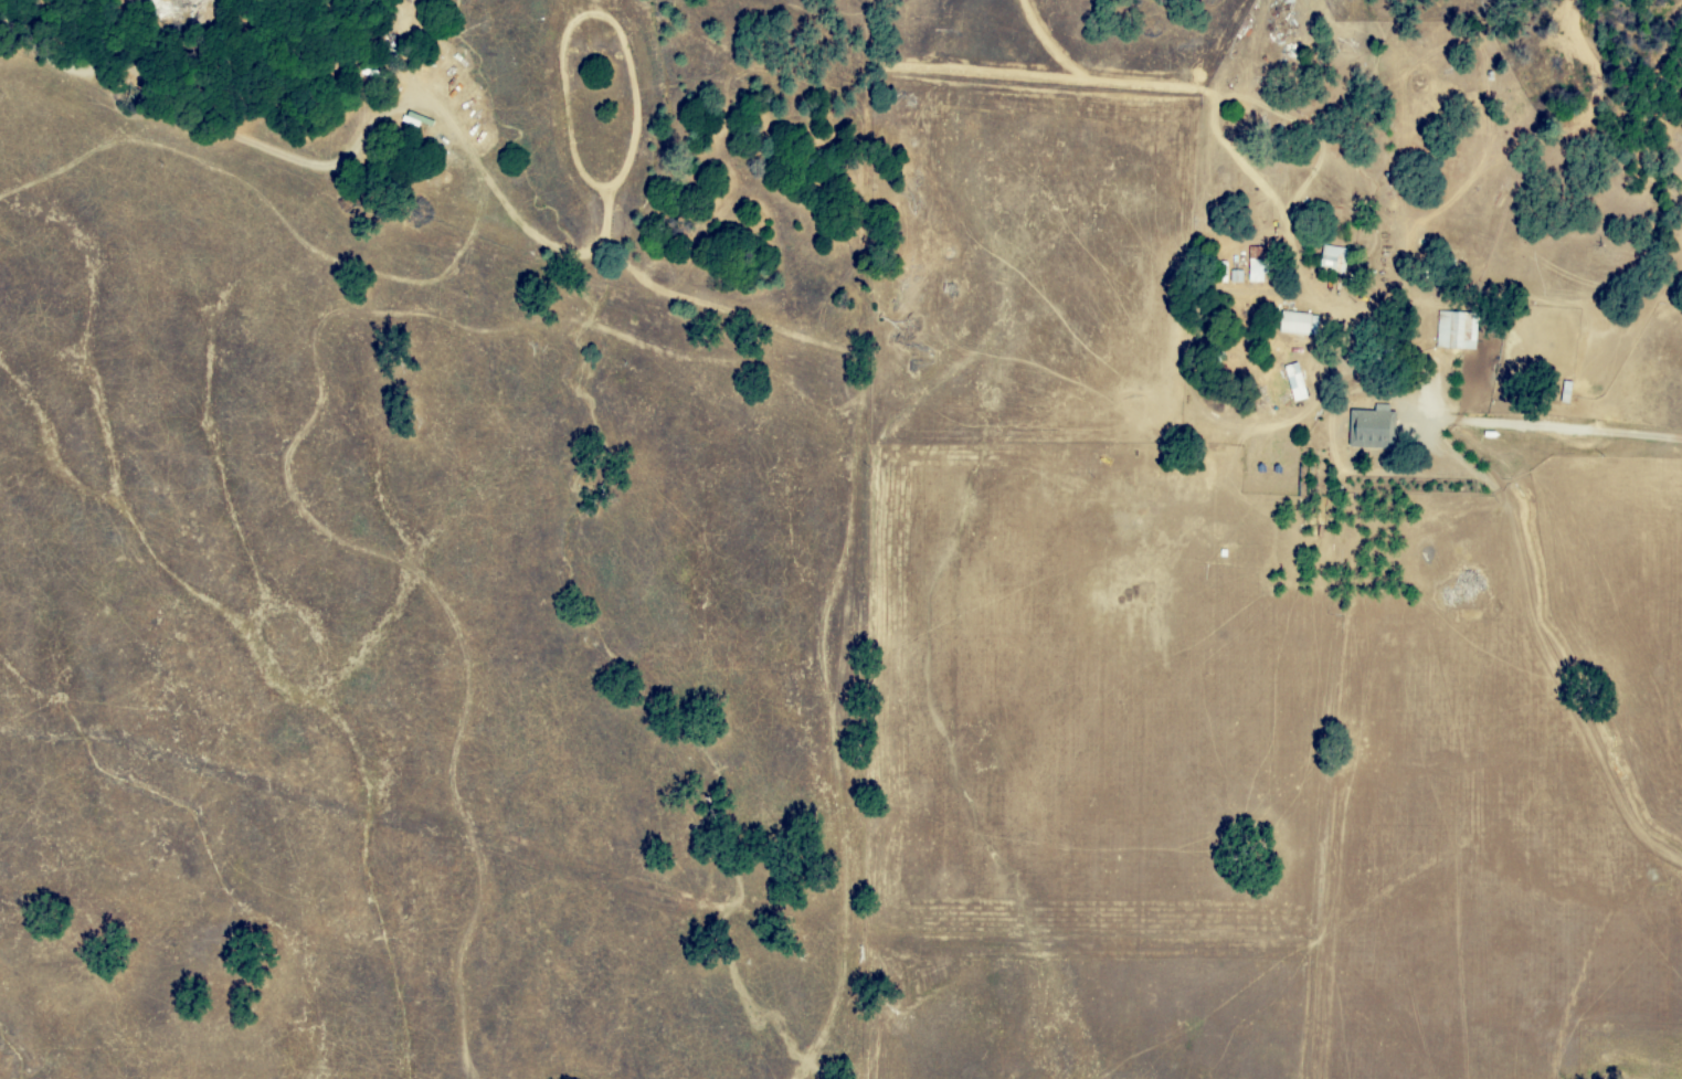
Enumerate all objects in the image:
building: (1256, 265)
building: (1298, 324)
building: (1453, 331)
building: (1295, 383)
building: (1372, 429)
road: (1516, 435)
road: (1357, 747)

